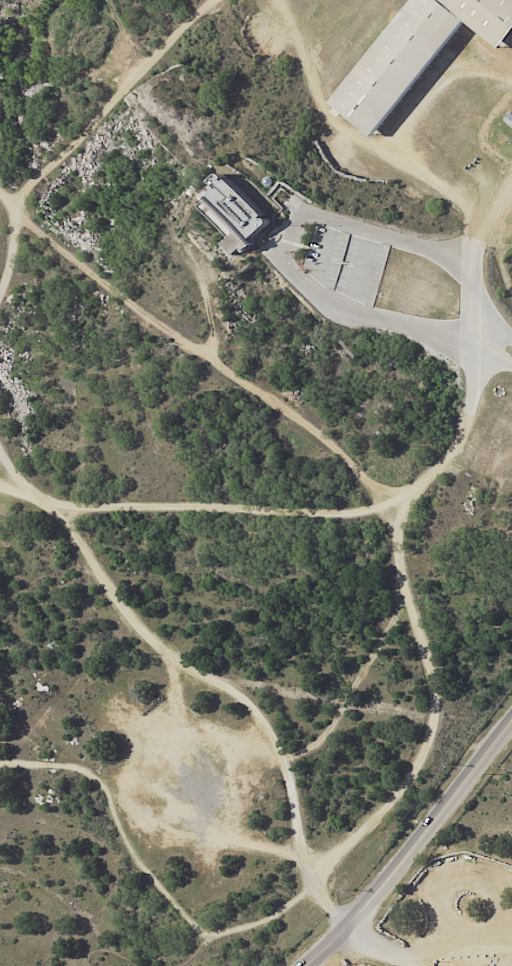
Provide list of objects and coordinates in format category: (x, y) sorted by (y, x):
building: (422, 60)
building: (510, 120)
quarry: (92, 122)
road: (491, 208)
building: (247, 223)
road: (284, 250)
road: (324, 255)
parking lot: (345, 263)
road: (361, 271)
road: (468, 319)
road: (490, 322)
road: (490, 347)
road: (12, 487)
road: (199, 692)
road: (413, 849)
road: (309, 854)
road: (150, 883)

